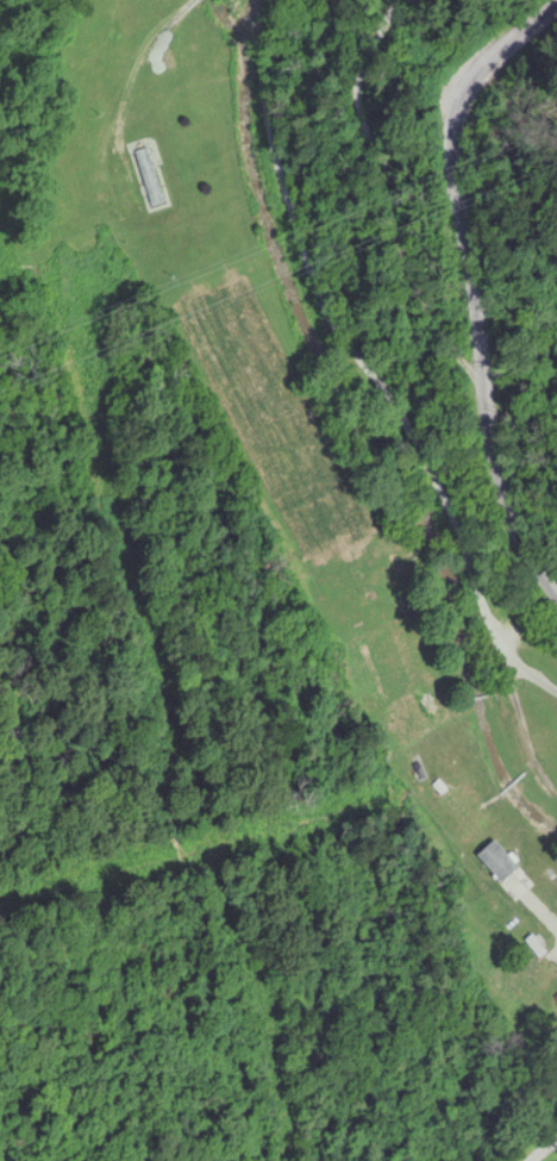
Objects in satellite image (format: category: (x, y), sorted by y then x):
road: (365, 117)
building: (148, 179)
road: (292, 187)
road: (481, 289)
road: (457, 533)
building: (387, 579)
building: (415, 719)
road: (524, 734)
building: (465, 819)
building: (495, 862)
road: (543, 1153)

